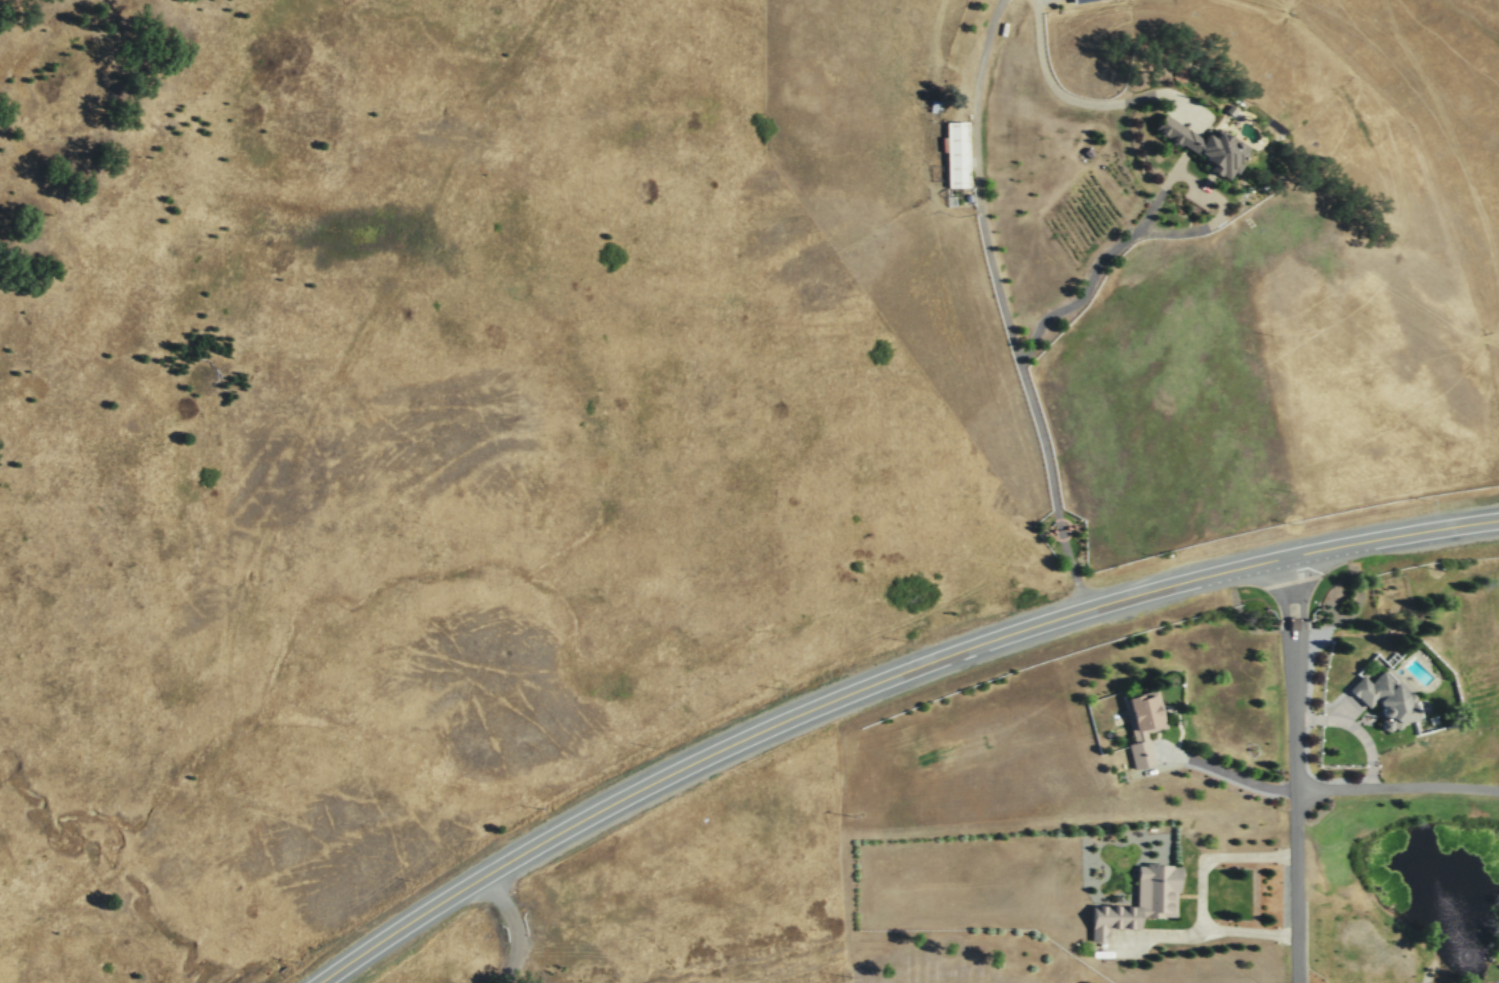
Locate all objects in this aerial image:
building: (1076, 0)
road: (978, 68)
road: (1087, 102)
building: (1202, 145)
building: (956, 153)
road: (1148, 213)
road: (1024, 377)
road: (977, 649)
building: (1384, 698)
building: (1141, 724)
road: (1359, 731)
road: (1302, 772)
road: (1230, 775)
road: (1401, 790)
road: (1199, 891)
building: (1137, 902)
road: (517, 923)
road: (400, 926)
road: (1160, 934)

